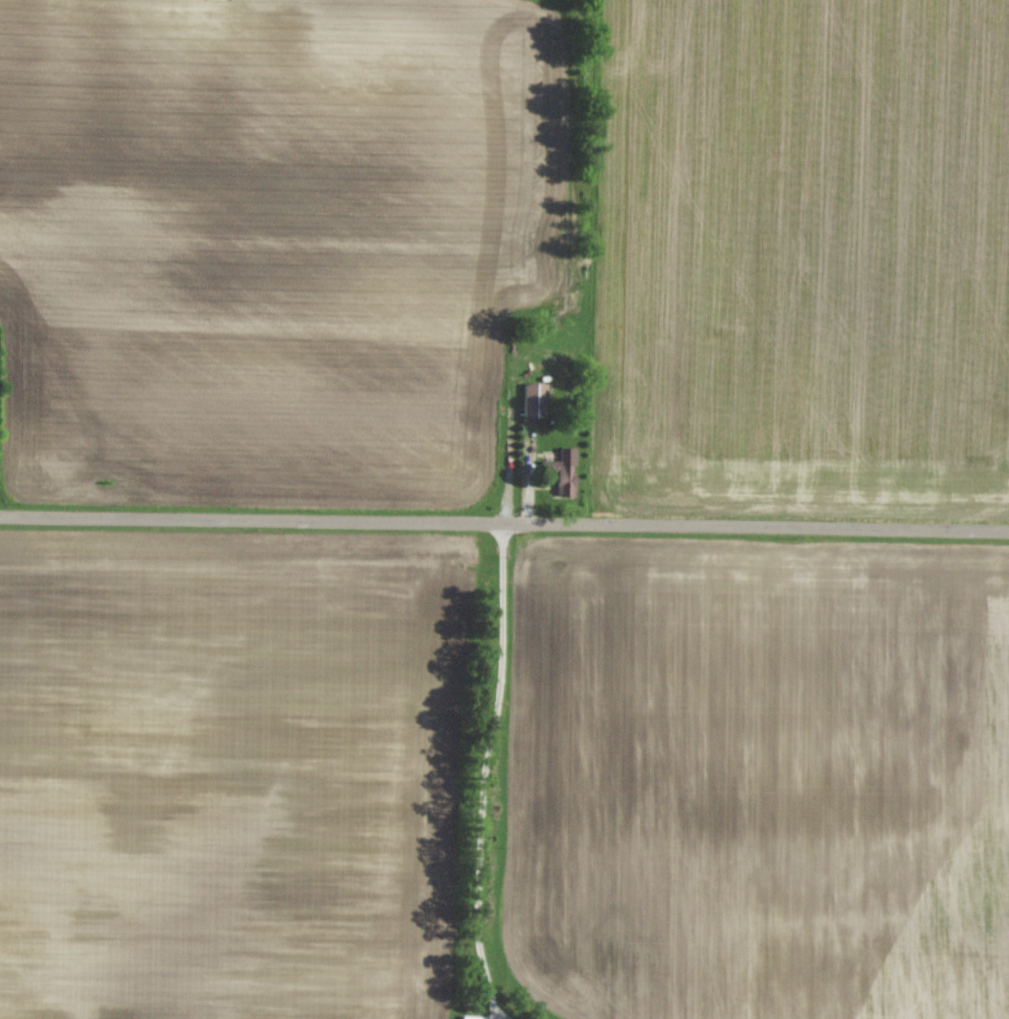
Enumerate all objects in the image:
building: (531, 399)
building: (560, 470)
road: (504, 524)
road: (479, 769)
road: (491, 1015)

